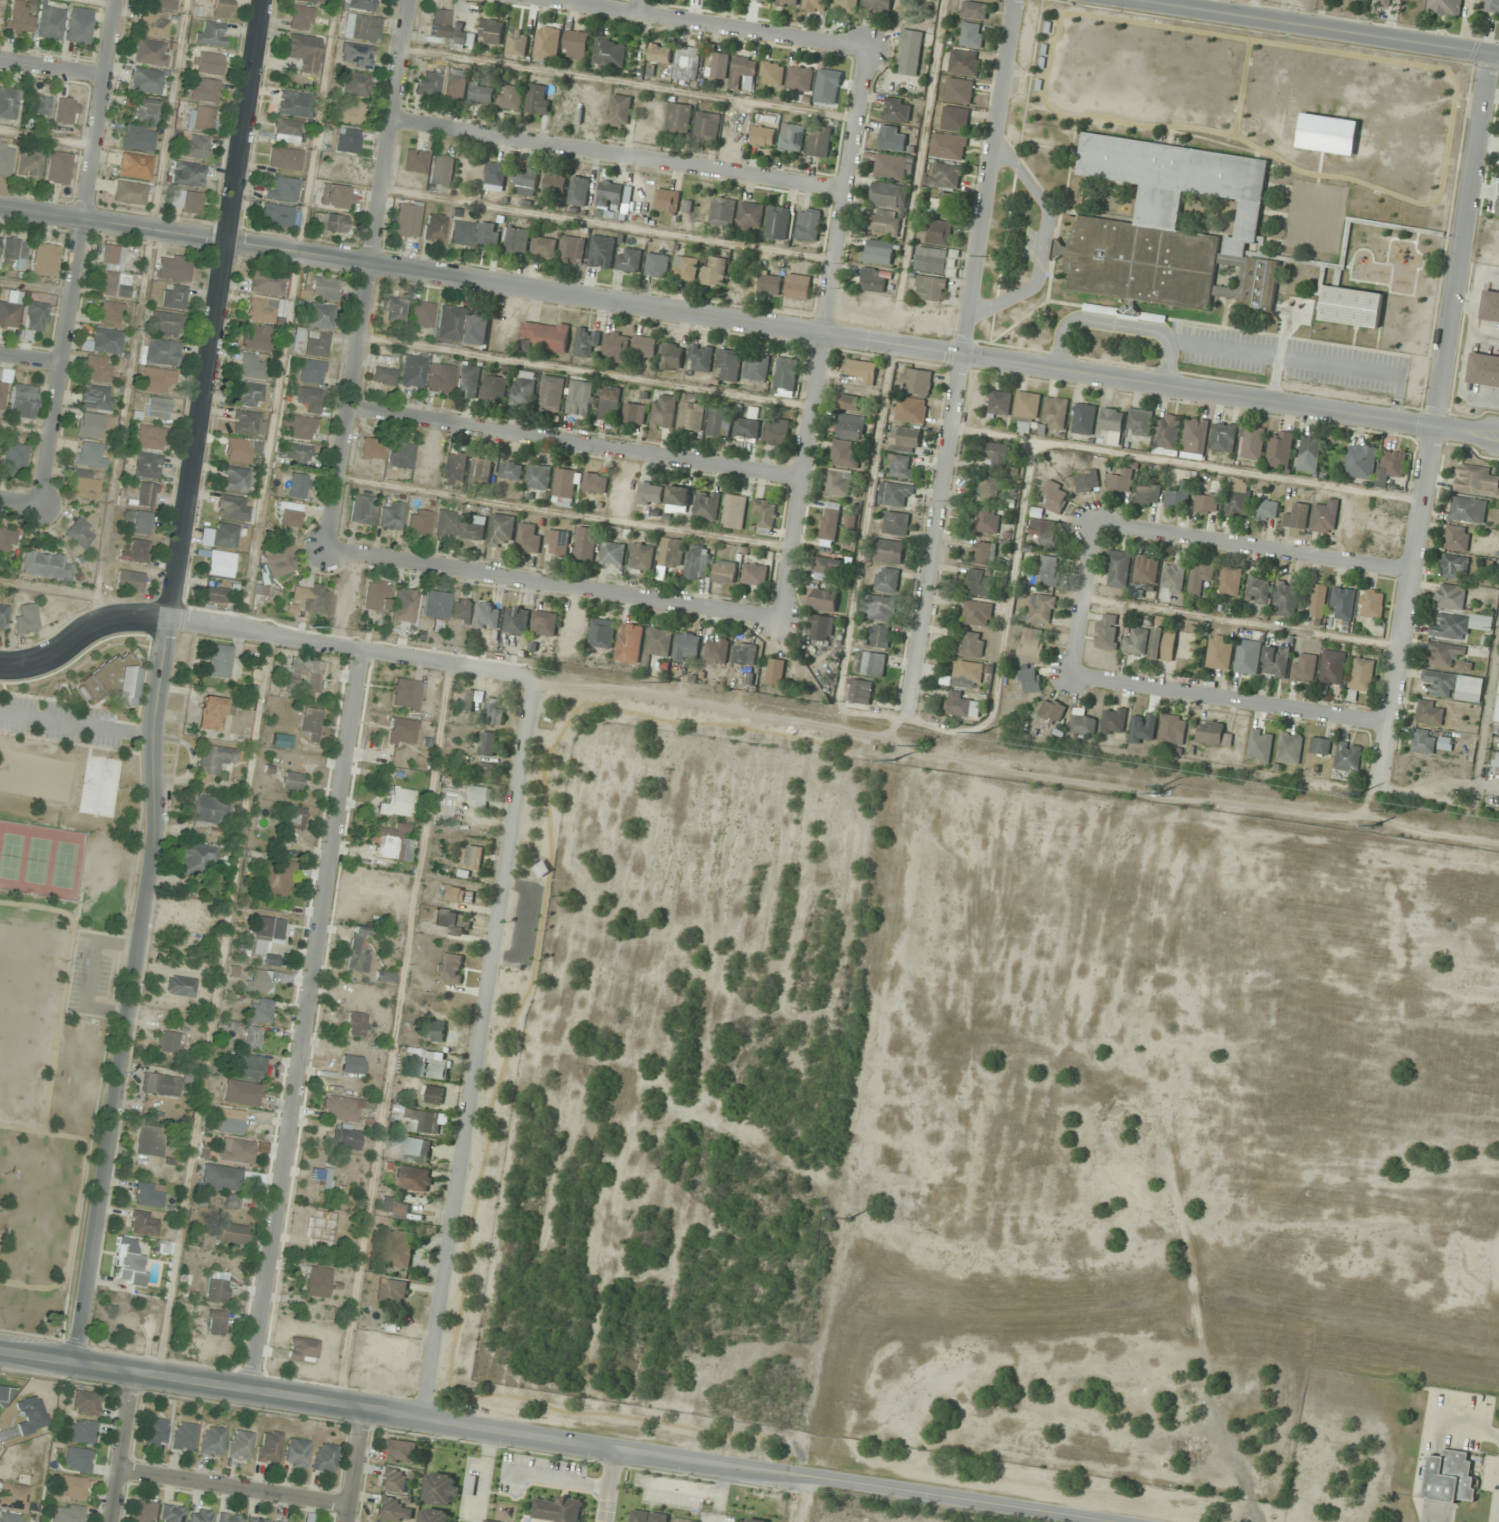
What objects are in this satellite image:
building: (1354, 0)
building: (305, 1)
building: (782, 2)
building: (1382, 2)
building: (160, 4)
building: (360, 4)
building: (816, 4)
building: (878, 4)
building: (845, 5)
building: (1492, 6)
road: (640, 7)
building: (1445, 7)
building: (219, 8)
building: (974, 9)
building: (18, 17)
building: (299, 18)
building: (49, 22)
building: (438, 23)
road: (710, 24)
building: (152, 25)
building: (360, 27)
building: (77, 30)
road: (1315, 30)
building: (492, 31)
building: (460, 33)
building: (972, 34)
building: (210, 35)
building: (548, 37)
building: (517, 42)
building: (575, 43)
building: (302, 52)
building: (910, 52)
building: (149, 53)
building: (660, 53)
building: (356, 56)
building: (964, 62)
building: (206, 63)
building: (688, 63)
building: (720, 65)
road: (54, 72)
building: (772, 72)
building: (744, 73)
building: (800, 78)
building: (145, 81)
building: (354, 84)
building: (455, 84)
building: (427, 85)
building: (828, 86)
building: (202, 90)
building: (959, 90)
building: (483, 93)
building: (511, 97)
building: (538, 99)
building: (7, 103)
building: (292, 104)
building: (40, 106)
building: (897, 110)
building: (144, 111)
building: (621, 111)
building: (347, 113)
building: (199, 118)
building: (679, 118)
building: (955, 118)
building: (707, 126)
building: (285, 131)
building: (763, 136)
building: (136, 138)
building: (892, 138)
building: (791, 139)
building: (346, 141)
building: (819, 141)
building: (194, 146)
building: (948, 146)
road: (622, 158)
building: (4, 159)
building: (283, 159)
building: (27, 164)
building: (134, 166)
building: (892, 166)
building: (57, 168)
building: (441, 170)
building: (187, 174)
building: (496, 176)
building: (945, 176)
building: (526, 177)
building: (556, 184)
building: (280, 189)
building: (579, 191)
building: (128, 193)
building: (610, 193)
building: (889, 195)
building: (333, 196)
building: (183, 201)
building: (667, 201)
building: (944, 205)
building: (722, 211)
building: (275, 215)
building: (751, 216)
building: (405, 221)
building: (885, 221)
building: (778, 222)
building: (329, 223)
building: (809, 224)
building: (1174, 227)
building: (433, 228)
building: (939, 232)
building: (461, 233)
building: (489, 235)
building: (517, 239)
road: (1045, 244)
building: (545, 247)
building: (573, 249)
building: (602, 251)
building: (13, 254)
building: (877, 254)
road: (83, 255)
building: (108, 255)
building: (630, 259)
building: (44, 260)
building: (932, 260)
building: (658, 265)
building: (172, 268)
building: (685, 268)
building: (714, 271)
road: (370, 275)
building: (875, 280)
building: (265, 283)
building: (770, 283)
building: (110, 285)
building: (798, 286)
building: (322, 289)
building: (930, 289)
building: (172, 296)
building: (1351, 306)
building: (1490, 306)
building: (393, 309)
building: (261, 310)
building: (107, 313)
building: (1125, 313)
building: (420, 314)
building: (8, 315)
building: (34, 316)
building: (318, 316)
building: (165, 324)
road: (749, 324)
building: (447, 325)
road: (1117, 325)
building: (476, 328)
building: (255, 337)
building: (545, 337)
road: (830, 337)
building: (103, 342)
building: (587, 342)
building: (314, 344)
building: (645, 346)
building: (616, 347)
road: (964, 347)
building: (160, 353)
road: (1279, 355)
building: (672, 356)
building: (701, 358)
road: (1304, 359)
road: (31, 362)
building: (729, 365)
building: (249, 367)
building: (757, 367)
building: (96, 368)
building: (863, 370)
building: (1484, 370)
building: (411, 371)
building: (309, 372)
building: (382, 376)
building: (786, 376)
building: (438, 378)
building: (155, 380)
building: (468, 380)
building: (916, 381)
building: (495, 387)
building: (3, 388)
building: (524, 388)
building: (552, 393)
building: (249, 395)
building: (94, 397)
building: (580, 397)
building: (307, 401)
building: (23, 402)
building: (609, 402)
building: (850, 402)
building: (1000, 403)
building: (157, 407)
building: (664, 410)
building: (911, 410)
building: (1027, 410)
building: (634, 412)
building: (1055, 412)
building: (692, 416)
building: (1085, 419)
building: (720, 421)
building: (1140, 422)
building: (246, 423)
building: (1113, 424)
building: (748, 425)
building: (92, 426)
building: (300, 427)
building: (851, 427)
road: (1434, 429)
building: (777, 431)
building: (1168, 431)
building: (1195, 435)
building: (1224, 436)
building: (149, 438)
building: (905, 439)
building: (1253, 442)
road: (576, 447)
building: (1280, 448)
building: (371, 449)
building: (239, 450)
building: (1310, 450)
building: (297, 454)
building: (996, 454)
building: (88, 455)
building: (846, 455)
building: (399, 456)
building: (13, 457)
building: (1360, 461)
building: (1391, 465)
building: (145, 466)
building: (901, 466)
building: (454, 468)
building: (481, 469)
building: (511, 470)
building: (539, 476)
building: (235, 479)
building: (1476, 480)
building: (1087, 481)
building: (596, 482)
building: (839, 482)
building: (1120, 483)
building: (82, 485)
building: (296, 486)
building: (565, 487)
building: (990, 488)
building: (651, 493)
building: (895, 493)
building: (1148, 494)
building: (145, 495)
building: (1056, 495)
building: (1180, 495)
building: (678, 498)
building: (1206, 503)
building: (1238, 503)
building: (707, 505)
road: (23, 506)
building: (231, 507)
building: (1267, 509)
building: (1468, 509)
building: (361, 510)
building: (735, 511)
building: (766, 512)
building: (287, 515)
building: (1297, 516)
building: (390, 517)
building: (1325, 517)
building: (988, 520)
building: (417, 522)
building: (896, 522)
building: (141, 523)
building: (830, 523)
building: (446, 524)
building: (476, 528)
building: (502, 530)
building: (1044, 531)
building: (78, 533)
building: (223, 536)
building: (1457, 537)
building: (529, 538)
building: (6, 540)
building: (557, 542)
building: (586, 543)
road: (1257, 550)
building: (889, 551)
building: (134, 552)
building: (672, 552)
building: (614, 553)
building: (985, 553)
building: (642, 557)
building: (277, 562)
building: (698, 562)
building: (218, 564)
building: (44, 566)
building: (1454, 567)
building: (1118, 568)
building: (828, 569)
building: (1049, 570)
building: (725, 571)
building: (1145, 572)
building: (755, 574)
building: (1175, 576)
building: (1201, 576)
building: (887, 579)
building: (1231, 580)
building: (128, 581)
building: (981, 583)
road: (556, 589)
building: (1258, 589)
building: (213, 595)
building: (374, 596)
building: (1450, 596)
building: (309, 597)
building: (1286, 597)
building: (824, 599)
building: (1319, 600)
road: (1087, 601)
building: (1343, 603)
building: (1372, 603)
building: (432, 605)
building: (401, 606)
building: (881, 607)
building: (1042, 609)
building: (460, 610)
building: (977, 613)
building: (488, 615)
building: (3, 616)
building: (26, 619)
building: (517, 621)
building: (545, 623)
building: (1460, 625)
building: (822, 627)
building: (602, 633)
building: (881, 635)
road: (266, 638)
building: (659, 642)
building: (1032, 642)
building: (1136, 642)
building: (630, 643)
building: (973, 644)
building: (1163, 644)
building: (687, 645)
building: (717, 651)
building: (1219, 653)
building: (745, 654)
building: (1444, 654)
building: (1248, 656)
building: (1276, 661)
building: (219, 662)
building: (874, 662)
building: (1304, 667)
building: (1332, 667)
building: (306, 673)
building: (968, 674)
building: (1362, 676)
road: (161, 679)
building: (773, 680)
building: (1030, 680)
building: (109, 683)
building: (1455, 685)
building: (860, 691)
building: (405, 693)
road: (1232, 698)
building: (468, 700)
building: (961, 705)
building: (494, 711)
building: (1050, 712)
building: (1430, 712)
building: (1497, 712)
building: (212, 713)
building: (1114, 720)
building: (310, 722)
building: (1083, 723)
building: (1173, 731)
building: (401, 732)
building: (1214, 734)
building: (280, 741)
building: (1424, 741)
building: (488, 743)
building: (1445, 743)
building: (1320, 745)
building: (1290, 748)
building: (1348, 757)
building: (213, 760)
building: (1497, 766)
building: (291, 781)
building: (480, 796)
building: (399, 802)
building: (445, 803)
building: (208, 810)
building: (290, 818)
building: (390, 843)
building: (474, 857)
building: (194, 859)
building: (543, 868)
building: (274, 879)
building: (455, 894)
building: (448, 922)
building: (264, 934)
building: (357, 950)
building: (449, 967)
building: (383, 977)
building: (178, 986)
building: (258, 1010)
building: (355, 1017)
road: (306, 1018)
building: (436, 1031)
building: (250, 1038)
building: (167, 1042)
road: (484, 1047)
building: (351, 1064)
building: (430, 1064)
building: (250, 1067)
building: (158, 1086)
building: (231, 1090)
building: (433, 1094)
building: (342, 1108)
building: (421, 1120)
building: (228, 1122)
building: (344, 1138)
building: (148, 1142)
building: (415, 1149)
building: (235, 1151)
building: (320, 1178)
building: (412, 1178)
building: (229, 1179)
building: (147, 1195)
building: (394, 1208)
building: (141, 1223)
building: (229, 1233)
building: (398, 1248)
building: (127, 1263)
building: (316, 1282)
building: (216, 1287)
building: (392, 1292)
building: (125, 1322)
building: (215, 1323)
building: (301, 1350)
building: (85, 1403)
building: (80, 1432)
building: (154, 1433)
road: (550, 1433)
building: (183, 1437)
building: (211, 1441)
road: (119, 1444)
building: (239, 1445)
building: (267, 1447)
building: (399, 1451)
building: (295, 1453)
building: (323, 1458)
building: (76, 1460)
road: (353, 1462)
road: (484, 1473)
building: (1451, 1477)
building: (395, 1479)
road: (561, 1480)
road: (607, 1483)
building: (470, 1485)
road: (231, 1486)
building: (72, 1488)
building: (441, 1489)
road: (684, 1489)
road: (720, 1492)
building: (13, 1497)
building: (392, 1509)
building: (558, 1509)
building: (141, 1512)
building: (66, 1513)
building: (170, 1513)
building: (434, 1514)
building: (198, 1515)
building: (648, 1516)
building: (11, 1518)
building: (227, 1518)
building: (254, 1520)
building: (754, 1520)
building: (273, 1521)
building: (490, 1521)

